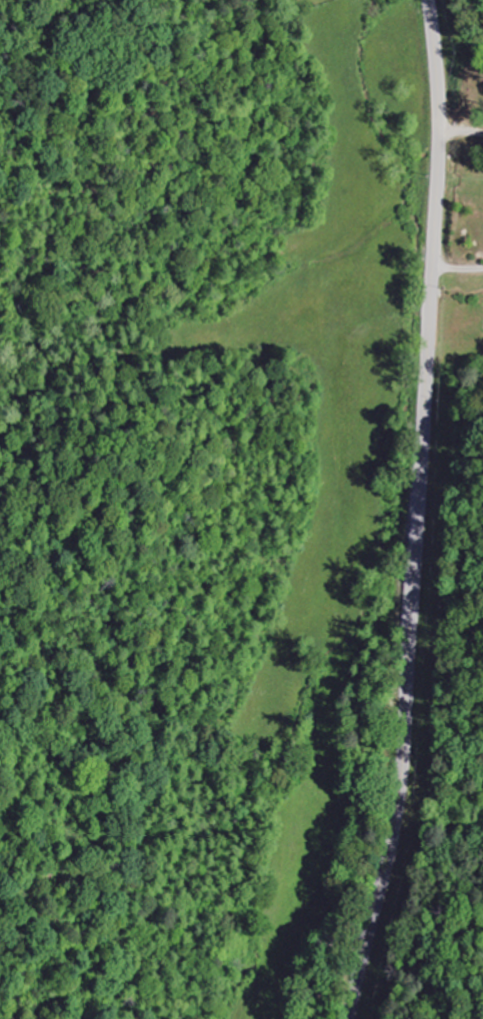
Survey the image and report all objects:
road: (417, 512)

